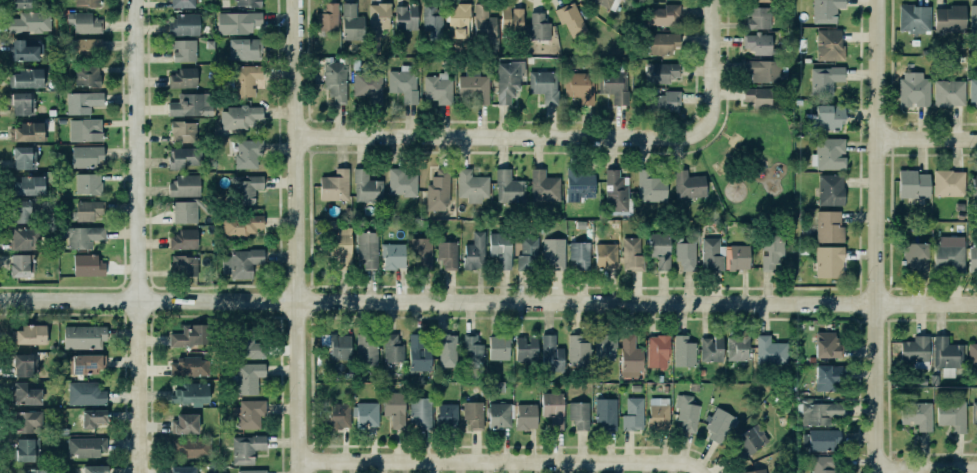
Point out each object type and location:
building: (757, 0)
building: (85, 2)
building: (601, 2)
building: (19, 3)
building: (182, 3)
building: (248, 3)
building: (823, 10)
building: (661, 14)
building: (756, 16)
building: (406, 17)
building: (570, 18)
building: (914, 18)
building: (973, 18)
building: (511, 19)
building: (949, 19)
building: (329, 20)
building: (433, 20)
building: (459, 20)
building: (351, 21)
building: (30, 22)
building: (82, 22)
building: (238, 22)
building: (182, 23)
building: (377, 23)
building: (484, 23)
building: (539, 25)
building: (660, 41)
building: (756, 43)
building: (827, 44)
building: (81, 47)
building: (242, 48)
building: (20, 50)
building: (181, 50)
road: (709, 65)
building: (762, 70)
building: (663, 74)
building: (87, 75)
building: (24, 77)
building: (183, 78)
building: (335, 79)
building: (823, 79)
building: (244, 80)
building: (508, 80)
building: (401, 84)
building: (368, 85)
building: (542, 85)
building: (611, 85)
building: (474, 86)
building: (580, 86)
building: (911, 90)
building: (973, 91)
building: (438, 92)
building: (949, 93)
building: (757, 97)
building: (666, 101)
building: (83, 102)
building: (23, 105)
building: (187, 109)
road: (723, 114)
building: (240, 117)
building: (829, 117)
building: (85, 130)
building: (27, 131)
building: (183, 132)
road: (725, 134)
road: (730, 135)
road: (735, 135)
road: (502, 136)
road: (728, 139)
road: (927, 139)
road: (738, 140)
road: (729, 142)
road: (702, 144)
road: (733, 144)
road: (736, 144)
road: (744, 148)
road: (724, 152)
building: (826, 153)
building: (251, 154)
building: (86, 156)
building: (184, 157)
road: (762, 160)
building: (24, 162)
road: (743, 163)
park: (750, 163)
road: (719, 168)
road: (724, 171)
road: (730, 173)
building: (402, 182)
building: (88, 183)
building: (580, 183)
building: (911, 183)
building: (949, 183)
building: (184, 185)
building: (335, 185)
building: (472, 185)
building: (689, 185)
building: (974, 185)
building: (509, 186)
building: (544, 186)
building: (367, 187)
building: (651, 187)
building: (245, 189)
building: (831, 189)
building: (439, 190)
building: (31, 191)
building: (616, 191)
building: (89, 210)
building: (23, 211)
building: (184, 211)
building: (241, 224)
building: (826, 226)
building: (79, 235)
road: (143, 236)
road: (303, 236)
road: (879, 236)
building: (24, 238)
building: (184, 239)
building: (339, 242)
building: (366, 248)
building: (501, 249)
building: (660, 249)
building: (772, 249)
building: (421, 252)
building: (475, 252)
building: (554, 253)
building: (580, 253)
building: (528, 254)
building: (632, 254)
building: (709, 254)
building: (448, 255)
building: (606, 255)
building: (686, 256)
building: (734, 256)
building: (912, 256)
building: (395, 257)
building: (948, 257)
building: (972, 257)
building: (827, 261)
building: (242, 262)
building: (21, 264)
building: (88, 265)
building: (184, 265)
road: (488, 298)
building: (190, 335)
building: (84, 336)
building: (32, 338)
building: (250, 346)
building: (340, 346)
building: (499, 347)
building: (737, 347)
building: (829, 347)
building: (393, 348)
building: (605, 348)
building: (711, 348)
building: (367, 349)
building: (472, 349)
building: (578, 349)
building: (447, 350)
building: (681, 350)
building: (771, 350)
building: (946, 350)
building: (527, 351)
building: (658, 351)
building: (914, 351)
building: (972, 353)
building: (552, 355)
building: (420, 356)
building: (630, 357)
building: (83, 363)
building: (29, 365)
building: (188, 366)
building: (825, 376)
building: (247, 377)
building: (26, 393)
building: (85, 393)
building: (194, 396)
building: (392, 407)
building: (419, 411)
building: (973, 411)
building: (473, 412)
building: (554, 412)
building: (605, 412)
building: (687, 412)
building: (250, 413)
building: (659, 413)
building: (819, 413)
building: (367, 414)
building: (446, 414)
building: (498, 414)
building: (631, 414)
building: (337, 415)
building: (579, 415)
building: (917, 415)
building: (952, 415)
building: (526, 416)
building: (93, 417)
building: (27, 421)
building: (186, 423)
building: (717, 426)
building: (820, 439)
building: (750, 442)
building: (84, 445)
building: (190, 446)
building: (26, 448)
building: (247, 450)
road: (509, 459)
building: (822, 464)
road: (928, 468)
building: (94, 469)
building: (35, 470)
building: (184, 470)
building: (754, 471)
building: (252, 472)

